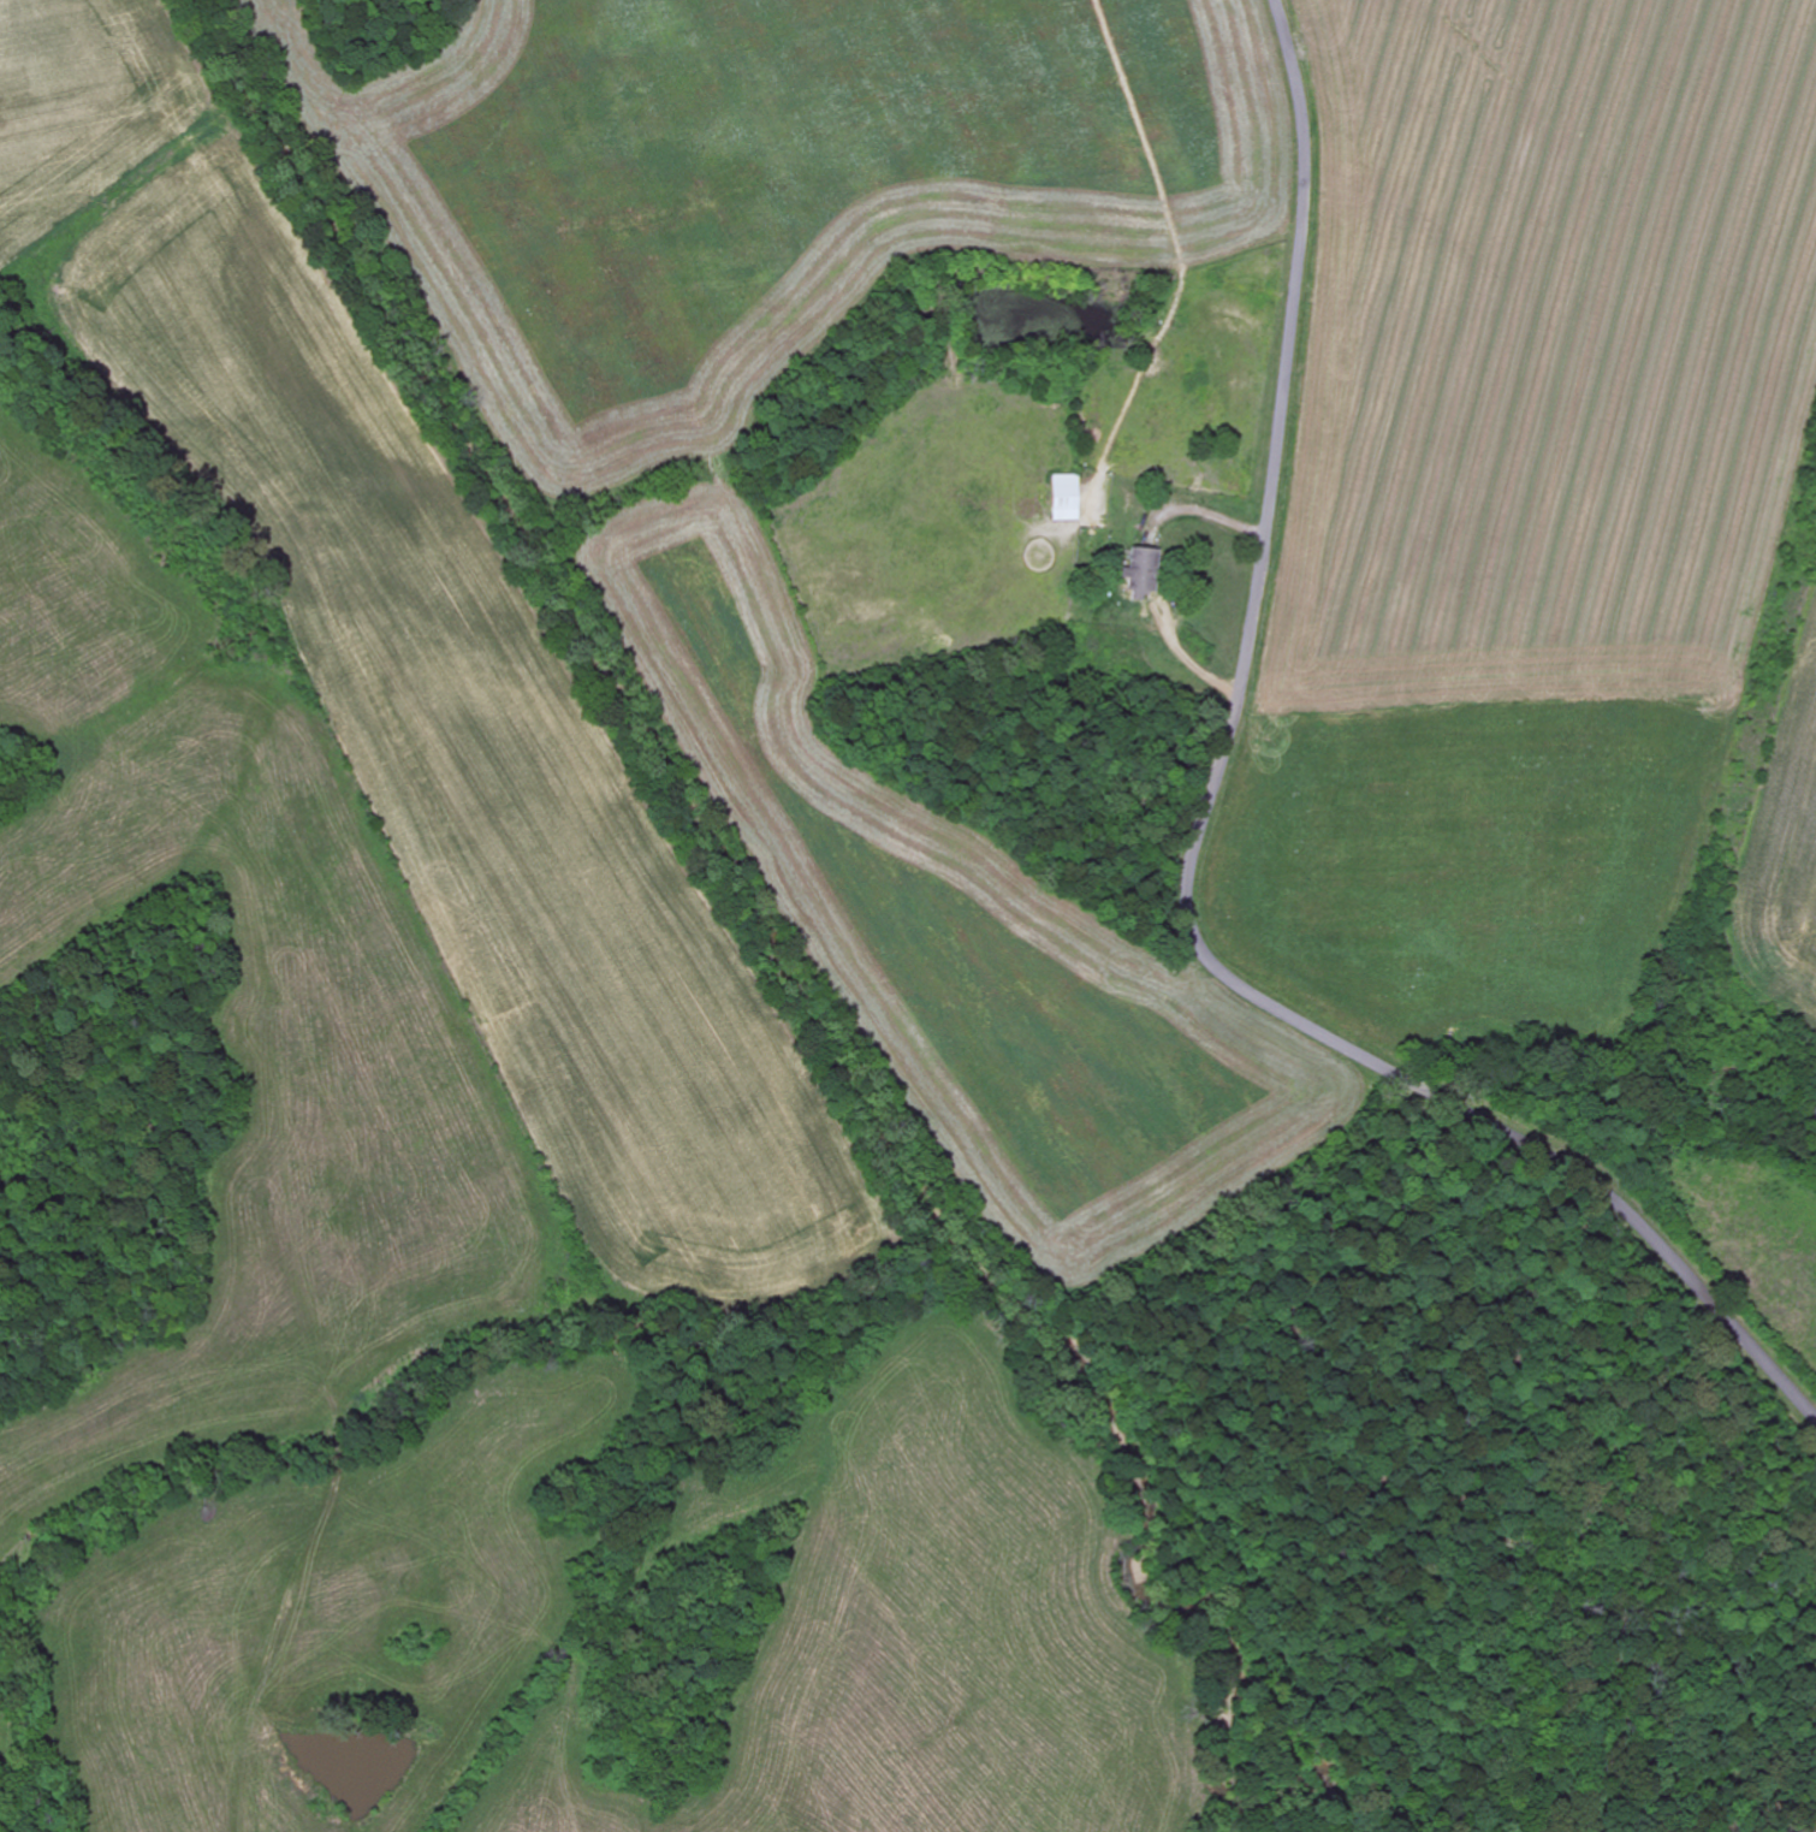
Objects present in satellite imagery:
building: (1140, 574)
road: (1191, 860)

